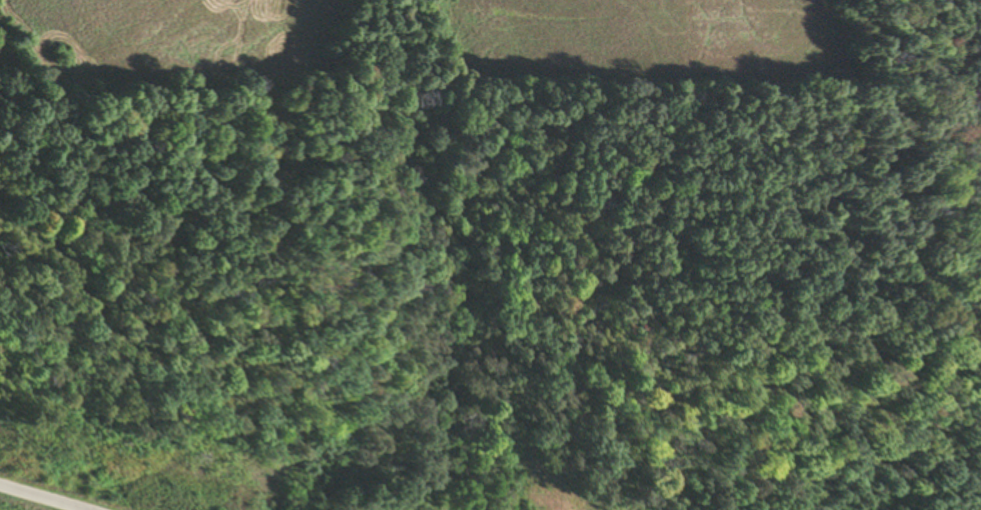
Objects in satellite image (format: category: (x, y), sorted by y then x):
road: (41, 497)
crop: (27, 501)

